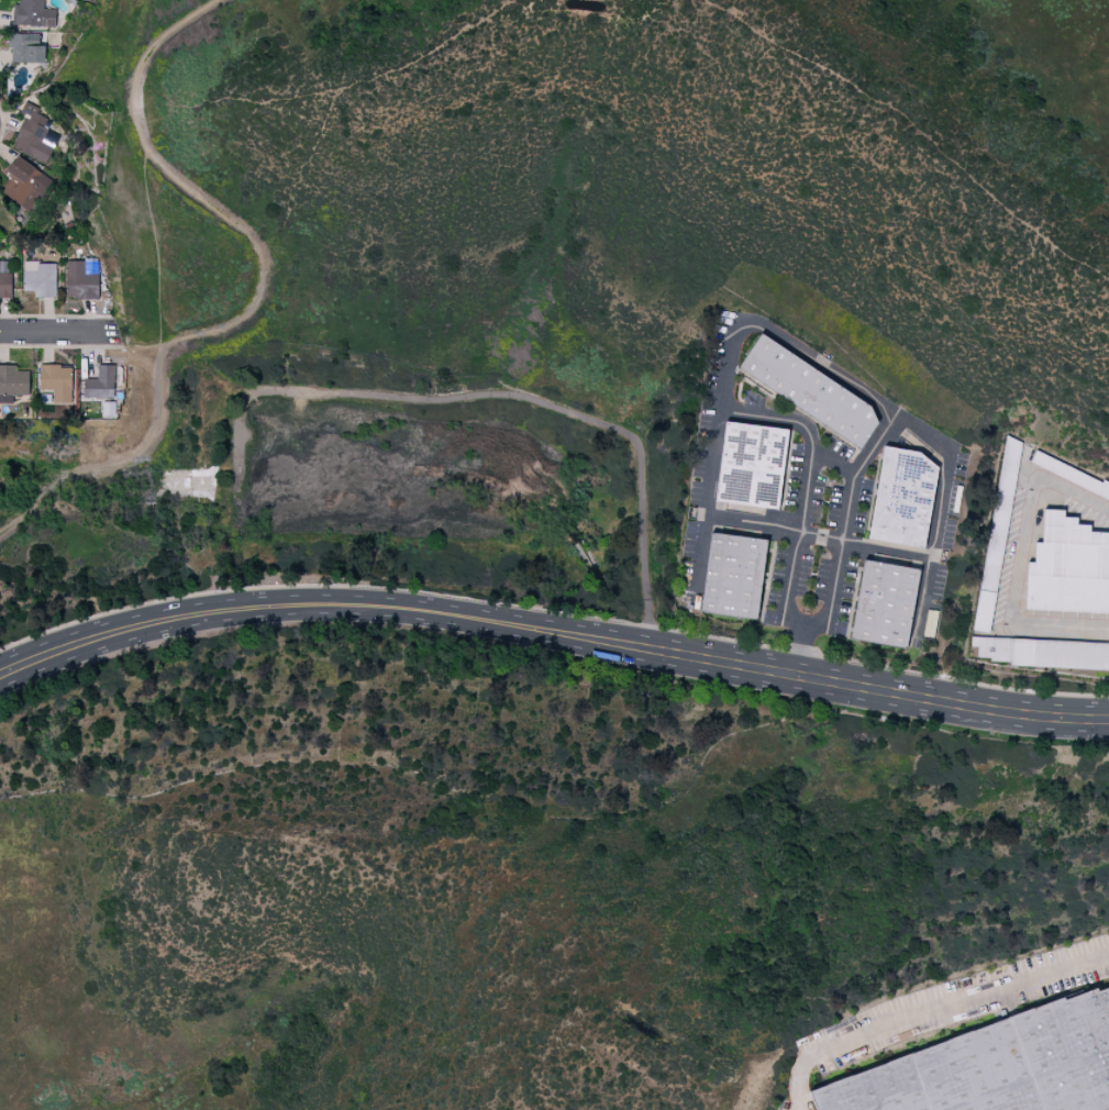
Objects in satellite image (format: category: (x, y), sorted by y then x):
building: (34, 13)
building: (26, 47)
building: (35, 134)
building: (26, 185)
road: (154, 251)
building: (4, 278)
building: (42, 280)
building: (81, 280)
road: (257, 291)
road: (728, 332)
road: (62, 336)
road: (144, 338)
building: (57, 381)
building: (12, 382)
building: (101, 382)
building: (809, 391)
road: (778, 420)
building: (752, 466)
road: (850, 471)
building: (1071, 476)
building: (903, 498)
road: (940, 523)
building: (997, 536)
road: (702, 550)
building: (1068, 568)
building: (733, 577)
road: (927, 602)
building: (885, 604)
road: (552, 631)
building: (1043, 654)
road: (422, 786)
road: (933, 1017)
building: (996, 1066)

